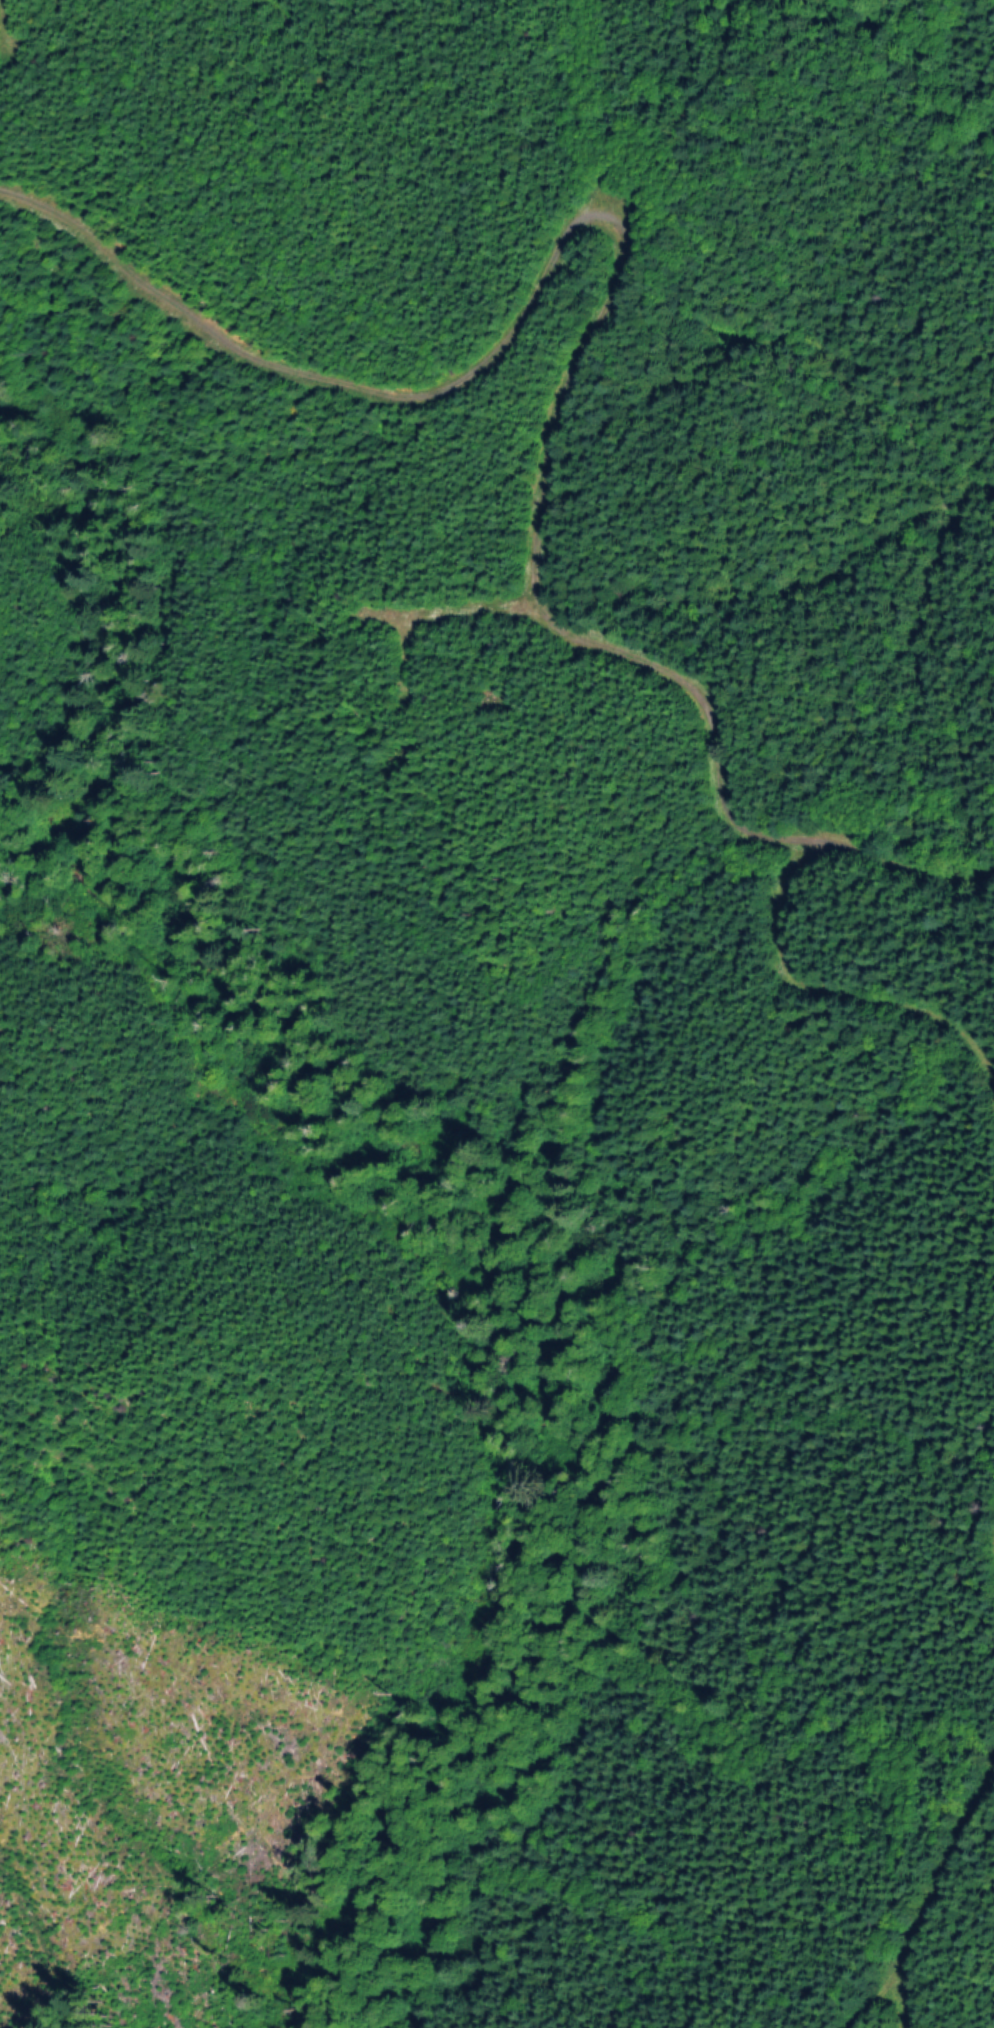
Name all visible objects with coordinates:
road: (615, 343)

